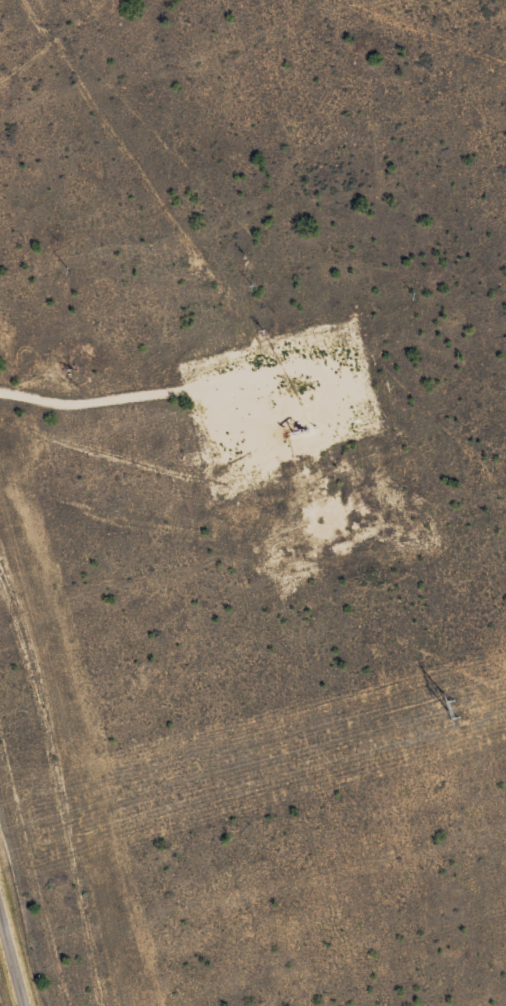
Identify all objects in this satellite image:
power tower: (449, 710)
road: (11, 956)

